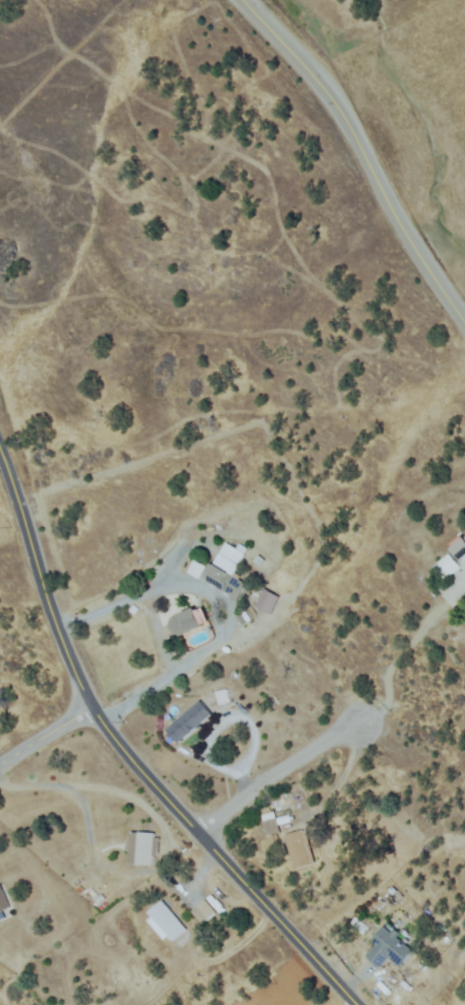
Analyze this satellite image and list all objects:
road: (362, 153)
building: (460, 547)
building: (242, 549)
building: (257, 559)
building: (448, 566)
building: (197, 568)
building: (226, 571)
building: (268, 601)
building: (132, 609)
building: (244, 620)
building: (188, 621)
building: (225, 649)
building: (234, 675)
building: (222, 696)
building: (188, 722)
road: (42, 735)
road: (128, 758)
road: (272, 771)
building: (268, 825)
building: (273, 839)
building: (143, 848)
building: (299, 849)
building: (3, 901)
building: (213, 903)
building: (380, 903)
building: (203, 912)
building: (166, 923)
building: (360, 927)
building: (389, 947)
building: (406, 985)
building: (383, 986)

